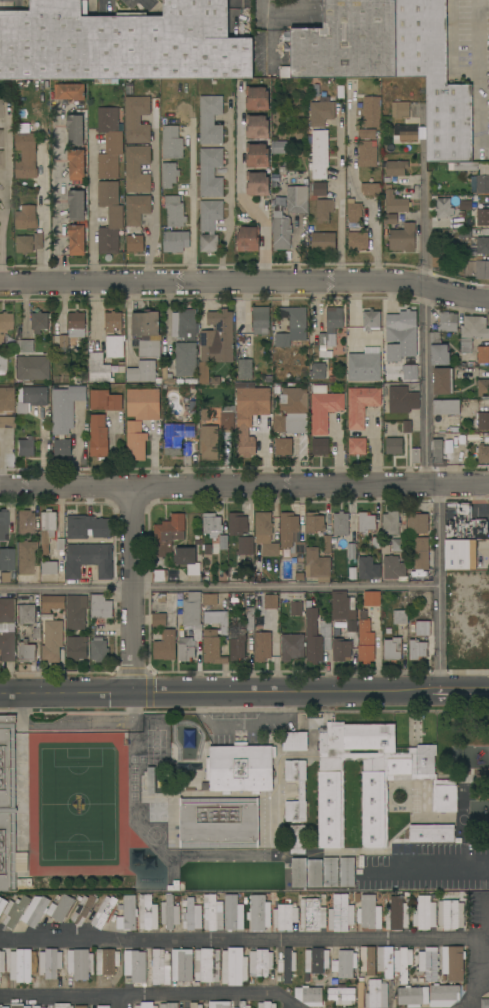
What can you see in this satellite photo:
road: (233, 12)
road: (280, 12)
building: (345, 42)
building: (121, 43)
road: (481, 72)
building: (434, 78)
building: (69, 92)
building: (256, 98)
building: (1, 109)
building: (400, 110)
building: (321, 112)
building: (371, 112)
building: (136, 119)
building: (210, 120)
building: (256, 127)
building: (75, 130)
building: (405, 132)
building: (366, 134)
building: (1, 138)
building: (109, 143)
building: (172, 143)
building: (278, 147)
building: (25, 151)
building: (319, 153)
building: (256, 155)
building: (366, 155)
building: (1, 160)
building: (76, 165)
building: (465, 166)
building: (395, 168)
building: (136, 169)
building: (484, 169)
building: (282, 170)
building: (210, 172)
building: (169, 175)
building: (275, 179)
building: (257, 184)
building: (480, 184)
road: (240, 187)
road: (353, 188)
building: (318, 189)
building: (371, 189)
road: (7, 193)
road: (230, 194)
road: (340, 196)
road: (60, 197)
road: (155, 198)
building: (297, 199)
road: (192, 201)
building: (395, 202)
building: (465, 205)
building: (76, 206)
building: (443, 208)
road: (92, 209)
building: (136, 209)
building: (323, 210)
building: (174, 211)
building: (353, 211)
road: (44, 215)
building: (109, 217)
building: (483, 217)
building: (26, 218)
building: (390, 219)
building: (209, 224)
building: (281, 226)
building: (402, 238)
building: (248, 239)
building: (76, 240)
building: (357, 240)
building: (134, 241)
building: (175, 241)
building: (29, 242)
building: (323, 242)
building: (483, 246)
building: (482, 270)
road: (245, 283)
building: (371, 319)
building: (260, 320)
building: (39, 321)
building: (113, 321)
building: (5, 322)
building: (447, 322)
building: (76, 324)
building: (184, 324)
building: (145, 325)
building: (292, 326)
road: (425, 326)
building: (474, 328)
building: (330, 331)
building: (401, 335)
building: (215, 342)
building: (465, 345)
building: (24, 346)
building: (115, 346)
building: (149, 348)
building: (438, 350)
building: (483, 354)
building: (185, 360)
building: (2, 364)
building: (469, 364)
building: (364, 366)
building: (102, 368)
building: (31, 369)
building: (244, 370)
building: (317, 371)
building: (143, 372)
building: (409, 372)
building: (166, 375)
building: (331, 379)
building: (191, 381)
building: (215, 381)
building: (442, 381)
building: (483, 388)
building: (192, 389)
building: (30, 398)
building: (6, 399)
building: (193, 399)
building: (402, 400)
building: (113, 402)
building: (142, 404)
building: (361, 405)
building: (65, 408)
building: (323, 408)
building: (292, 411)
building: (250, 416)
building: (446, 416)
building: (208, 417)
building: (227, 421)
building: (481, 421)
building: (6, 423)
building: (407, 426)
building: (104, 438)
building: (171, 440)
building: (135, 441)
building: (209, 444)
building: (394, 444)
building: (320, 446)
building: (356, 446)
building: (25, 447)
building: (283, 447)
building: (61, 448)
building: (437, 454)
building: (482, 454)
building: (415, 456)
road: (244, 487)
building: (24, 522)
building: (366, 523)
building: (390, 523)
building: (417, 523)
building: (211, 524)
building: (237, 524)
building: (263, 524)
building: (340, 524)
building: (465, 525)
building: (5, 526)
building: (87, 527)
building: (287, 528)
building: (319, 528)
building: (47, 529)
building: (168, 534)
building: (375, 542)
building: (60, 544)
building: (223, 545)
building: (339, 545)
building: (245, 546)
building: (400, 546)
building: (300, 547)
building: (385, 548)
building: (207, 549)
building: (270, 550)
building: (351, 551)
building: (61, 552)
building: (284, 552)
building: (421, 554)
building: (460, 555)
building: (24, 557)
building: (6, 560)
building: (88, 560)
building: (187, 560)
building: (317, 566)
building: (49, 568)
building: (367, 568)
building: (394, 568)
building: (205, 571)
building: (158, 576)
building: (299, 576)
building: (4, 577)
building: (257, 577)
road: (219, 587)
road: (440, 588)
road: (135, 589)
building: (371, 598)
building: (210, 600)
building: (52, 602)
building: (270, 602)
building: (100, 607)
building: (296, 609)
building: (343, 609)
building: (75, 612)
building: (25, 614)
building: (400, 617)
building: (249, 619)
building: (158, 620)
building: (190, 625)
building: (422, 628)
building: (6, 630)
building: (338, 631)
building: (36, 632)
building: (316, 636)
building: (214, 637)
building: (365, 640)
building: (53, 642)
building: (237, 644)
building: (165, 646)
building: (262, 647)
building: (292, 647)
building: (75, 648)
building: (98, 649)
building: (341, 650)
building: (392, 650)
building: (417, 650)
building: (25, 652)
road: (244, 691)
building: (188, 738)
building: (294, 741)
building: (240, 768)
building: (370, 780)
building: (150, 781)
building: (301, 791)
building: (7, 804)
building: (218, 822)
building: (431, 833)
building: (297, 839)
building: (206, 867)
road: (424, 869)
building: (330, 872)
building: (346, 872)
building: (302, 876)
building: (205, 880)
building: (357, 897)
building: (4, 903)
building: (60, 908)
building: (83, 910)
building: (14, 911)
building: (35, 911)
building: (104, 912)
building: (147, 913)
building: (169, 913)
building: (212, 913)
building: (232, 913)
building: (258, 913)
building: (341, 913)
building: (369, 913)
building: (424, 913)
building: (127, 914)
building: (312, 914)
building: (396, 914)
building: (450, 914)
building: (191, 915)
building: (284, 917)
road: (243, 940)
road: (487, 944)
building: (367, 960)
building: (384, 961)
building: (2, 962)
building: (315, 962)
building: (402, 962)
building: (50, 963)
building: (106, 963)
building: (260, 963)
building: (453, 963)
road: (488, 963)
building: (79, 964)
building: (344, 964)
building: (428, 964)
building: (182, 965)
building: (206, 965)
building: (286, 965)
building: (22, 966)
building: (135, 966)
building: (160, 967)
building: (234, 967)
building: (279, 978)
building: (360, 979)
building: (334, 981)
road: (150, 992)
building: (360, 994)
building: (376, 994)
building: (443, 995)
building: (308, 996)
building: (341, 996)
building: (412, 996)
road: (125, 1000)
road: (469, 1001)
building: (485, 1003)
building: (243, 1004)
road: (287, 1004)
building: (146, 1005)
building: (168, 1005)
building: (195, 1005)
building: (219, 1005)
building: (266, 1005)
building: (19, 1006)
building: (62, 1006)
building: (100, 1006)
building: (3, 1007)
building: (36, 1007)
building: (80, 1007)

